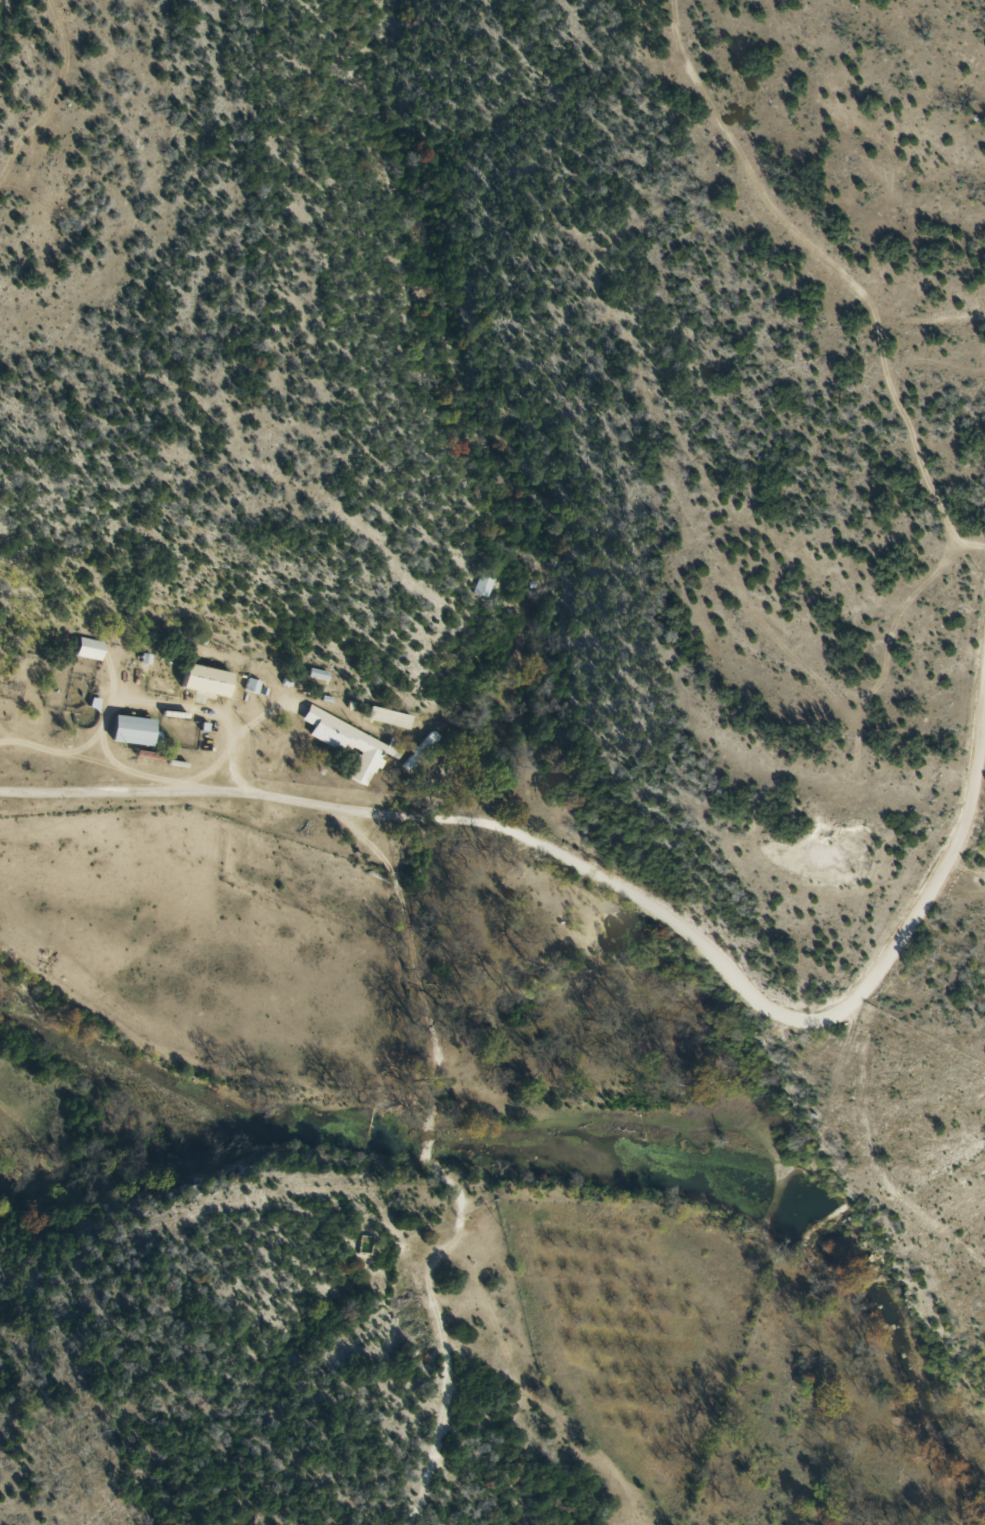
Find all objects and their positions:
building: (485, 585)
road: (625, 607)
building: (92, 649)
building: (210, 681)
building: (395, 719)
building: (138, 731)
building: (353, 744)
building: (422, 751)
road: (600, 915)
road: (878, 1179)
road: (781, 1245)

